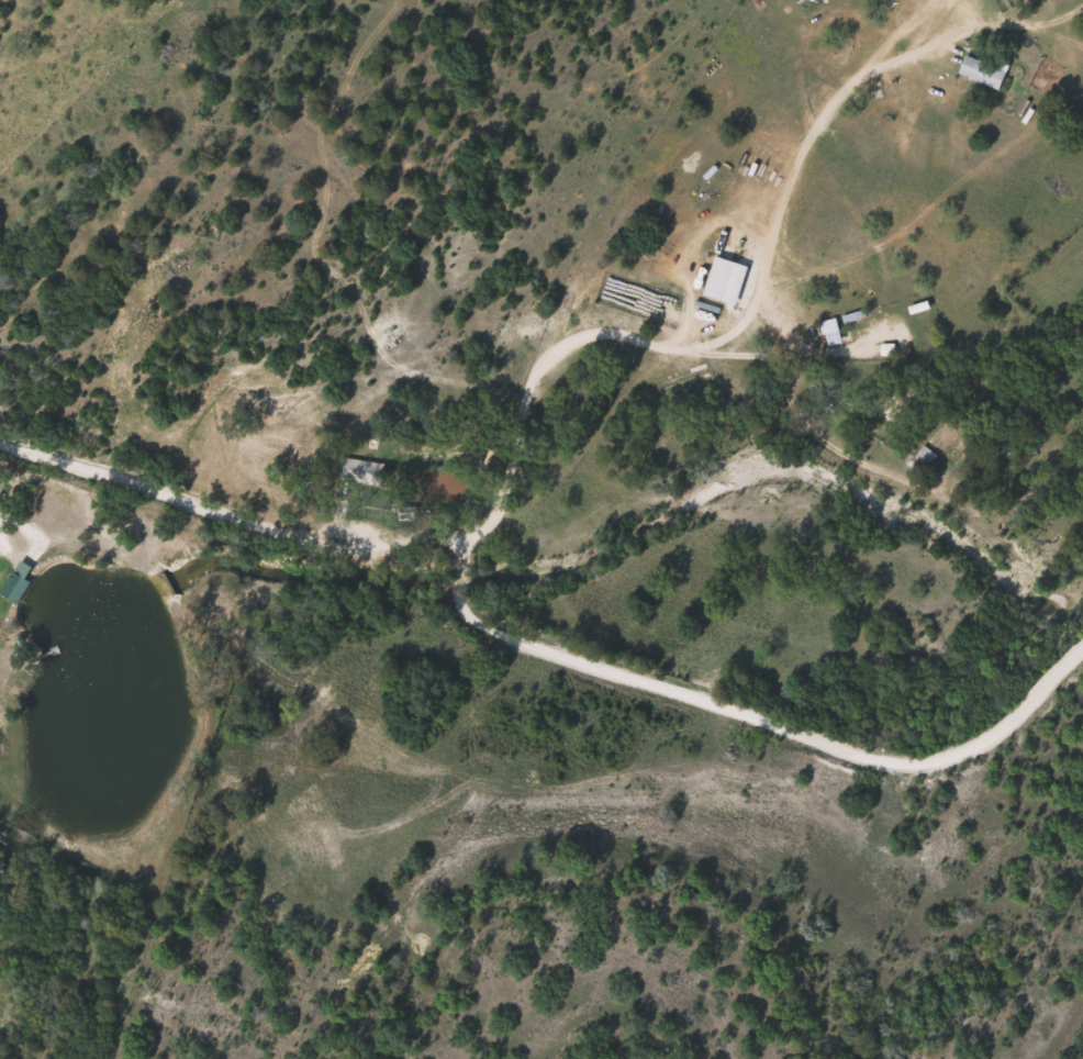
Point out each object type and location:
building: (982, 71)
building: (830, 332)
building: (898, 405)
building: (1004, 447)
building: (923, 459)
building: (359, 471)
road: (236, 540)
road: (485, 597)
road: (772, 756)

